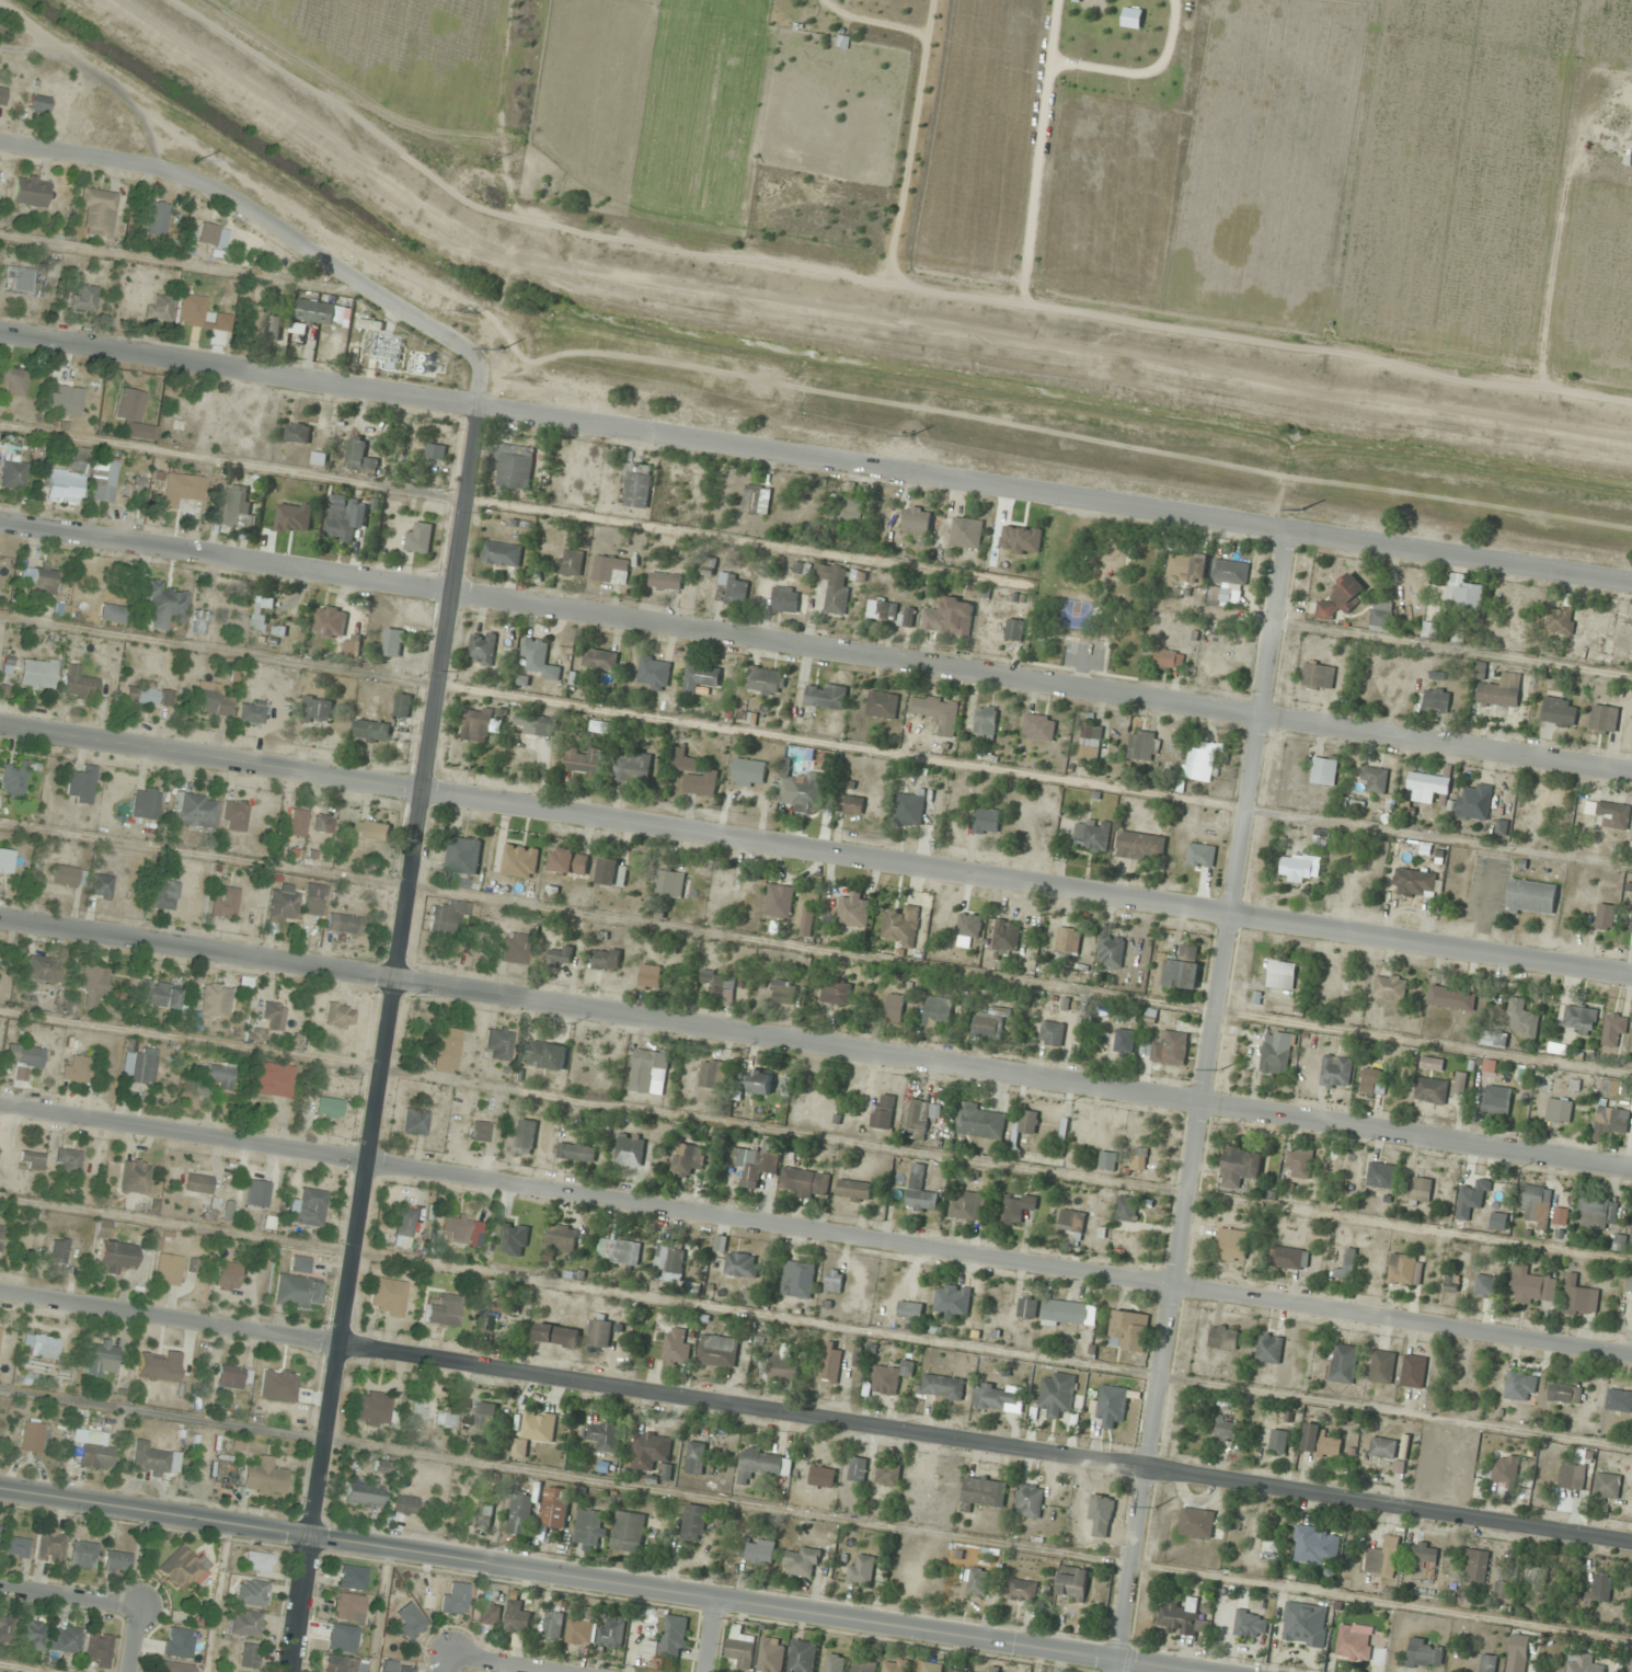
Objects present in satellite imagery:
building: (1, 95)
building: (36, 104)
road: (103, 159)
power tower: (493, 159)
building: (27, 191)
building: (93, 215)
building: (154, 219)
building: (205, 234)
building: (27, 277)
road: (368, 280)
building: (82, 299)
building: (157, 309)
building: (188, 311)
building: (322, 312)
power tower: (470, 312)
building: (370, 322)
building: (11, 381)
building: (62, 401)
building: (126, 403)
building: (298, 433)
building: (437, 450)
building: (360, 456)
building: (76, 458)
building: (320, 458)
road: (815, 461)
building: (514, 466)
building: (11, 474)
building: (100, 479)
building: (59, 484)
building: (636, 484)
building: (131, 488)
building: (187, 489)
building: (757, 499)
building: (228, 509)
building: (347, 519)
building: (916, 519)
building: (966, 532)
building: (1014, 547)
building: (503, 553)
building: (571, 563)
building: (1187, 565)
building: (801, 568)
building: (611, 570)
building: (1230, 572)
building: (41, 581)
building: (666, 581)
building: (836, 587)
building: (733, 588)
building: (1463, 594)
building: (1220, 596)
building: (1342, 597)
building: (785, 599)
building: (162, 606)
building: (881, 608)
building: (111, 614)
building: (950, 616)
building: (1381, 616)
building: (907, 617)
building: (266, 618)
building: (1560, 619)
building: (331, 621)
building: (197, 622)
building: (1014, 629)
building: (1429, 630)
building: (1616, 640)
building: (393, 642)
road: (816, 645)
building: (483, 648)
building: (536, 654)
building: (1169, 659)
building: (600, 660)
building: (655, 673)
building: (35, 674)
building: (1319, 676)
building: (701, 677)
building: (766, 680)
building: (77, 685)
building: (1501, 691)
building: (148, 695)
building: (826, 695)
building: (1436, 699)
building: (209, 700)
building: (403, 705)
building: (882, 705)
building: (318, 708)
building: (249, 711)
building: (1559, 711)
building: (936, 712)
building: (747, 718)
building: (1605, 718)
building: (986, 722)
building: (536, 723)
building: (478, 724)
building: (604, 726)
building: (1038, 728)
building: (373, 731)
building: (1090, 742)
building: (1145, 745)
building: (586, 760)
building: (1199, 763)
building: (633, 766)
building: (1324, 769)
building: (748, 772)
building: (694, 775)
building: (12, 778)
building: (1375, 780)
building: (79, 786)
building: (1425, 787)
building: (805, 792)
building: (1474, 802)
building: (143, 803)
building: (850, 804)
building: (910, 809)
building: (193, 811)
building: (1610, 813)
building: (232, 816)
building: (317, 820)
building: (987, 821)
building: (1501, 827)
building: (373, 832)
building: (1092, 835)
building: (1140, 846)
road: (816, 848)
building: (463, 855)
building: (568, 861)
building: (4, 862)
building: (1296, 868)
building: (613, 872)
building: (66, 877)
building: (1415, 882)
building: (670, 883)
building: (99, 886)
building: (161, 895)
building: (1530, 897)
building: (311, 900)
building: (780, 900)
building: (222, 902)
building: (280, 904)
building: (854, 909)
building: (1605, 916)
building: (445, 917)
building: (807, 921)
building: (342, 924)
building: (901, 926)
building: (1631, 927)
building: (970, 928)
building: (1007, 936)
building: (1068, 939)
building: (512, 949)
building: (1111, 951)
building: (561, 955)
building: (606, 959)
building: (45, 969)
building: (1183, 969)
building: (1282, 974)
building: (651, 975)
building: (719, 981)
building: (1329, 982)
building: (91, 985)
building: (1390, 986)
building: (837, 990)
building: (784, 992)
building: (158, 995)
building: (1450, 997)
building: (214, 1000)
building: (895, 1008)
building: (938, 1011)
building: (271, 1016)
building: (337, 1016)
building: (1521, 1018)
building: (1579, 1019)
building: (992, 1023)
building: (1614, 1028)
building: (1053, 1033)
building: (1493, 1039)
building: (1124, 1041)
road: (390, 1042)
building: (496, 1044)
road: (816, 1044)
building: (1171, 1049)
building: (445, 1051)
building: (1277, 1053)
building: (20, 1054)
building: (547, 1055)
building: (137, 1064)
building: (1432, 1064)
building: (1489, 1066)
building: (73, 1068)
building: (647, 1068)
building: (1335, 1072)
building: (712, 1073)
building: (1525, 1075)
building: (216, 1076)
building: (268, 1079)
building: (759, 1081)
building: (1372, 1081)
building: (1460, 1083)
building: (1610, 1085)
building: (1430, 1089)
road: (1204, 1101)
building: (1494, 1103)
building: (325, 1108)
building: (1559, 1110)
building: (883, 1111)
building: (918, 1119)
building: (980, 1121)
building: (1026, 1121)
building: (1609, 1121)
building: (413, 1122)
building: (478, 1132)
building: (526, 1135)
building: (630, 1149)
building: (577, 1152)
building: (30, 1159)
building: (688, 1159)
building: (1107, 1160)
building: (66, 1161)
building: (756, 1163)
building: (1135, 1163)
building: (1299, 1163)
building: (1241, 1167)
building: (1381, 1175)
building: (133, 1178)
building: (805, 1182)
building: (196, 1187)
building: (1418, 1189)
building: (1480, 1189)
building: (854, 1191)
building: (920, 1191)
building: (254, 1193)
building: (1536, 1203)
building: (968, 1206)
building: (307, 1207)
building: (1016, 1209)
building: (1126, 1209)
building: (226, 1212)
building: (1597, 1213)
building: (1561, 1216)
building: (1071, 1221)
building: (402, 1223)
building: (101, 1228)
building: (453, 1228)
road: (815, 1234)
building: (562, 1238)
building: (1631, 1241)
building: (510, 1242)
building: (1620, 1242)
building: (1232, 1245)
building: (57, 1250)
building: (620, 1251)
building: (114, 1258)
building: (1289, 1258)
building: (670, 1260)
building: (299, 1264)
building: (742, 1264)
building: (1346, 1266)
building: (166, 1270)
building: (1401, 1270)
building: (223, 1276)
building: (798, 1279)
building: (834, 1281)
building: (1486, 1285)
building: (1530, 1286)
building: (296, 1292)
building: (750, 1296)
building: (1579, 1296)
building: (386, 1297)
building: (952, 1301)
building: (1027, 1307)
building: (909, 1309)
building: (441, 1310)
building: (1065, 1313)
building: (1129, 1330)
building: (556, 1335)
building: (600, 1335)
building: (1223, 1337)
building: (676, 1345)
building: (38, 1347)
building: (1269, 1348)
building: (717, 1351)
building: (99, 1356)
building: (857, 1358)
building: (831, 1362)
building: (1343, 1363)
building: (781, 1366)
building: (1382, 1366)
building: (1413, 1371)
building: (232, 1377)
building: (890, 1377)
building: (36, 1381)
building: (942, 1386)
building: (1520, 1386)
building: (1565, 1393)
building: (1058, 1394)
building: (995, 1396)
building: (1619, 1399)
building: (1112, 1405)
building: (371, 1409)
building: (417, 1413)
building: (485, 1418)
building: (444, 1419)
road: (815, 1420)
building: (535, 1430)
building: (1226, 1430)
building: (606, 1435)
building: (30, 1436)
building: (1278, 1440)
building: (1320, 1442)
building: (1389, 1447)
building: (652, 1452)
building: (94, 1456)
building: (696, 1457)
building: (149, 1461)
building: (763, 1464)
building: (383, 1465)
building: (858, 1468)
building: (1505, 1469)
building: (1575, 1470)
building: (887, 1473)
building: (821, 1476)
building: (262, 1478)
building: (1607, 1482)
building: (982, 1491)
building: (360, 1495)
building: (1030, 1500)
building: (403, 1504)
building: (555, 1507)
building: (483, 1514)
building: (520, 1514)
building: (694, 1522)
building: (1197, 1522)
building: (1240, 1525)
building: (588, 1526)
building: (629, 1532)
building: (49, 1544)
building: (1317, 1545)
building: (14, 1547)
building: (757, 1549)
building: (1424, 1553)
building: (81, 1555)
building: (1382, 1557)
building: (256, 1561)
building: (802, 1561)
building: (115, 1562)
building: (1474, 1565)
building: (181, 1567)
building: (862, 1570)
building: (350, 1578)
building: (1536, 1578)
building: (977, 1581)
road: (597, 1582)
building: (1072, 1582)
building: (1600, 1588)
building: (1503, 1589)
building: (1023, 1590)
building: (250, 1593)
building: (452, 1597)
road: (70, 1599)
building: (346, 1607)
building: (489, 1614)
building: (518, 1617)
building: (1182, 1617)
building: (409, 1622)
building: (244, 1623)
building: (1305, 1623)
building: (553, 1624)
building: (1251, 1624)
building: (583, 1627)
building: (5, 1629)
building: (613, 1633)
building: (31, 1635)
road: (710, 1637)
building: (67, 1639)
building: (344, 1639)
building: (669, 1639)
road: (136, 1641)
building: (1354, 1644)
building: (742, 1647)
building: (96, 1649)
building: (1425, 1652)
building: (1518, 1652)
building: (248, 1656)
building: (802, 1656)
building: (1487, 1662)
building: (834, 1663)
building: (1631, 1663)
building: (342, 1664)
road: (452, 1664)
road: (503, 1664)
building: (895, 1664)
building: (1584, 1664)
building: (864, 1665)
building: (175, 1667)
building: (395, 1667)
building: (927, 1667)
building: (955, 1671)

